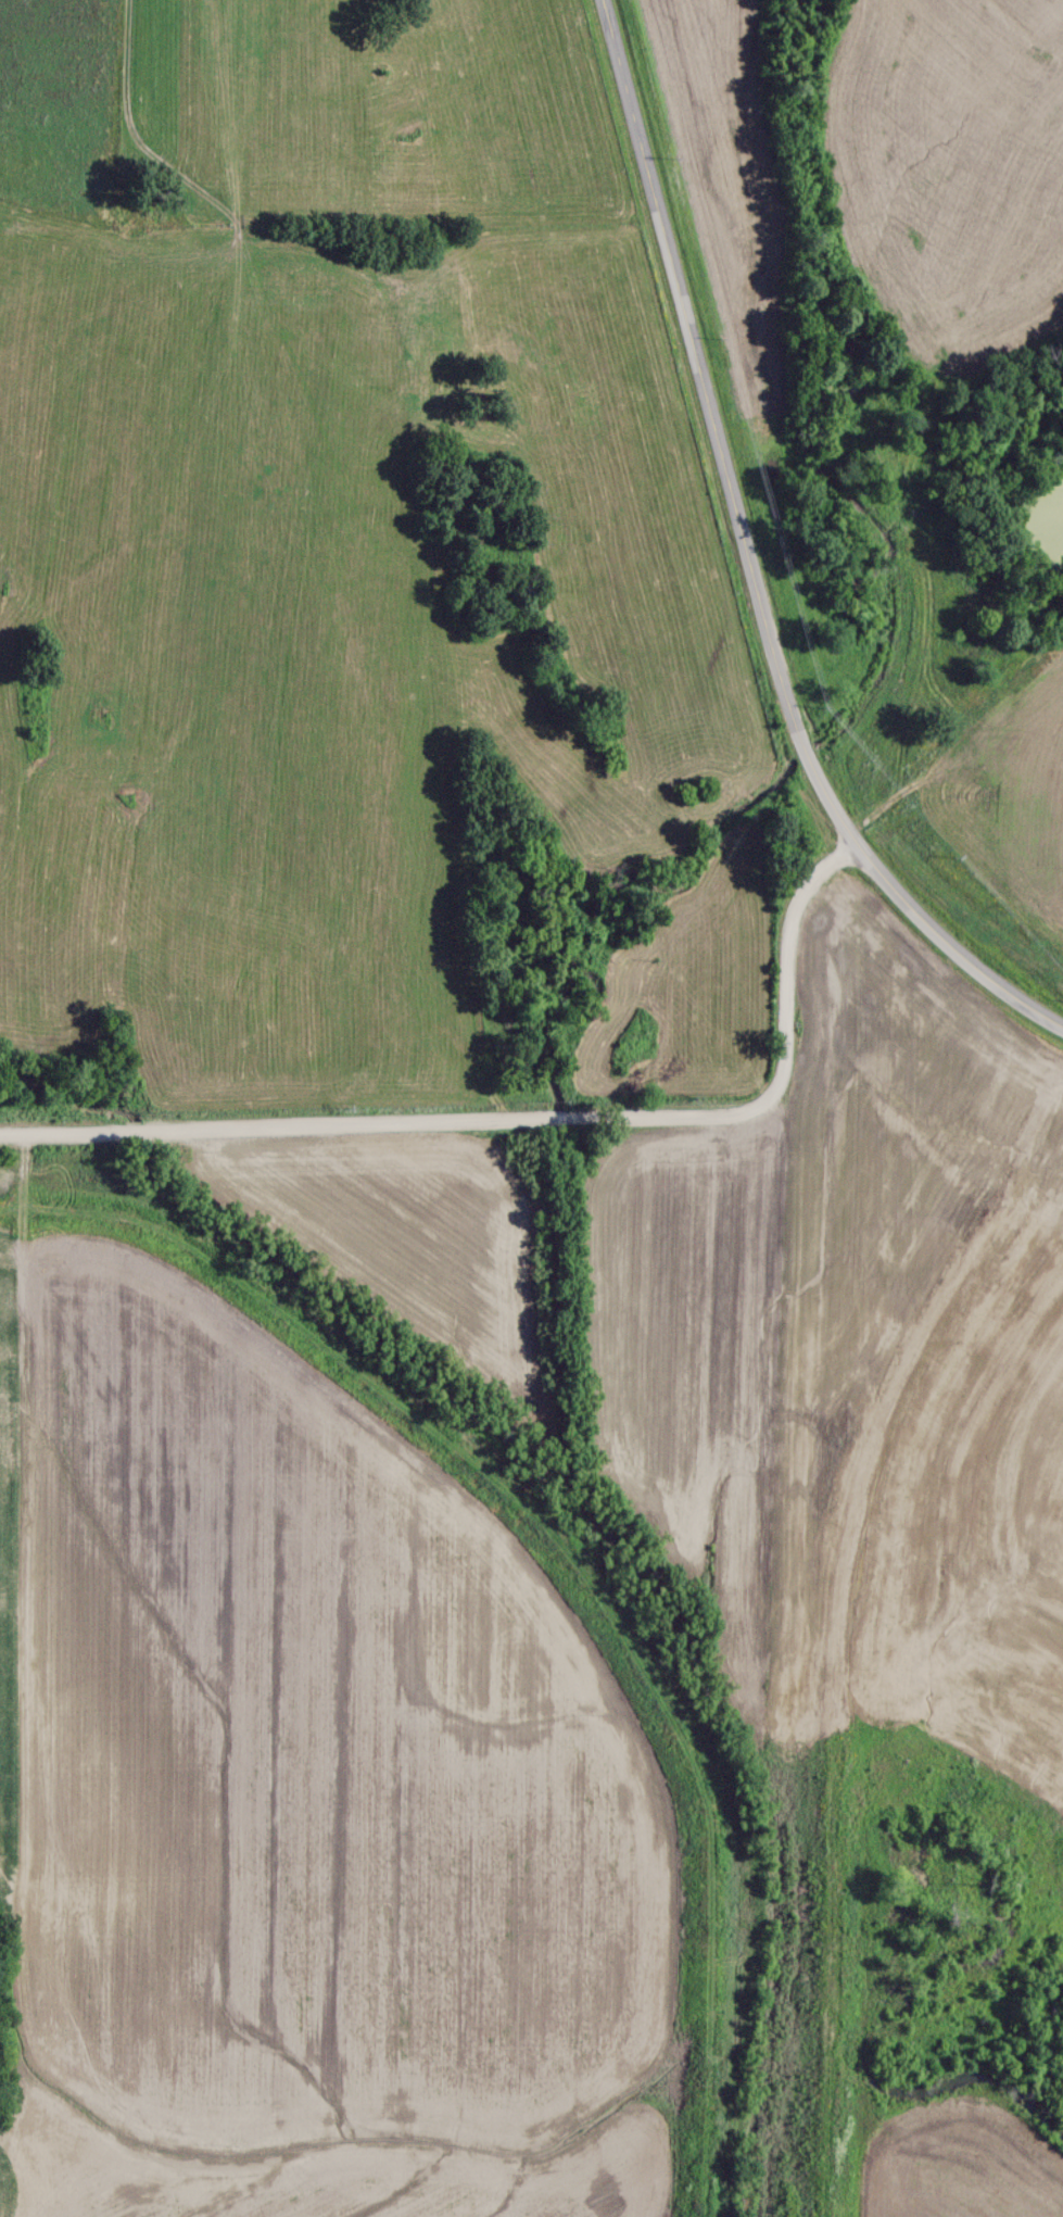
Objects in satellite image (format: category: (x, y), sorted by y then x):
road: (723, 432)
road: (957, 950)
road: (533, 1136)

